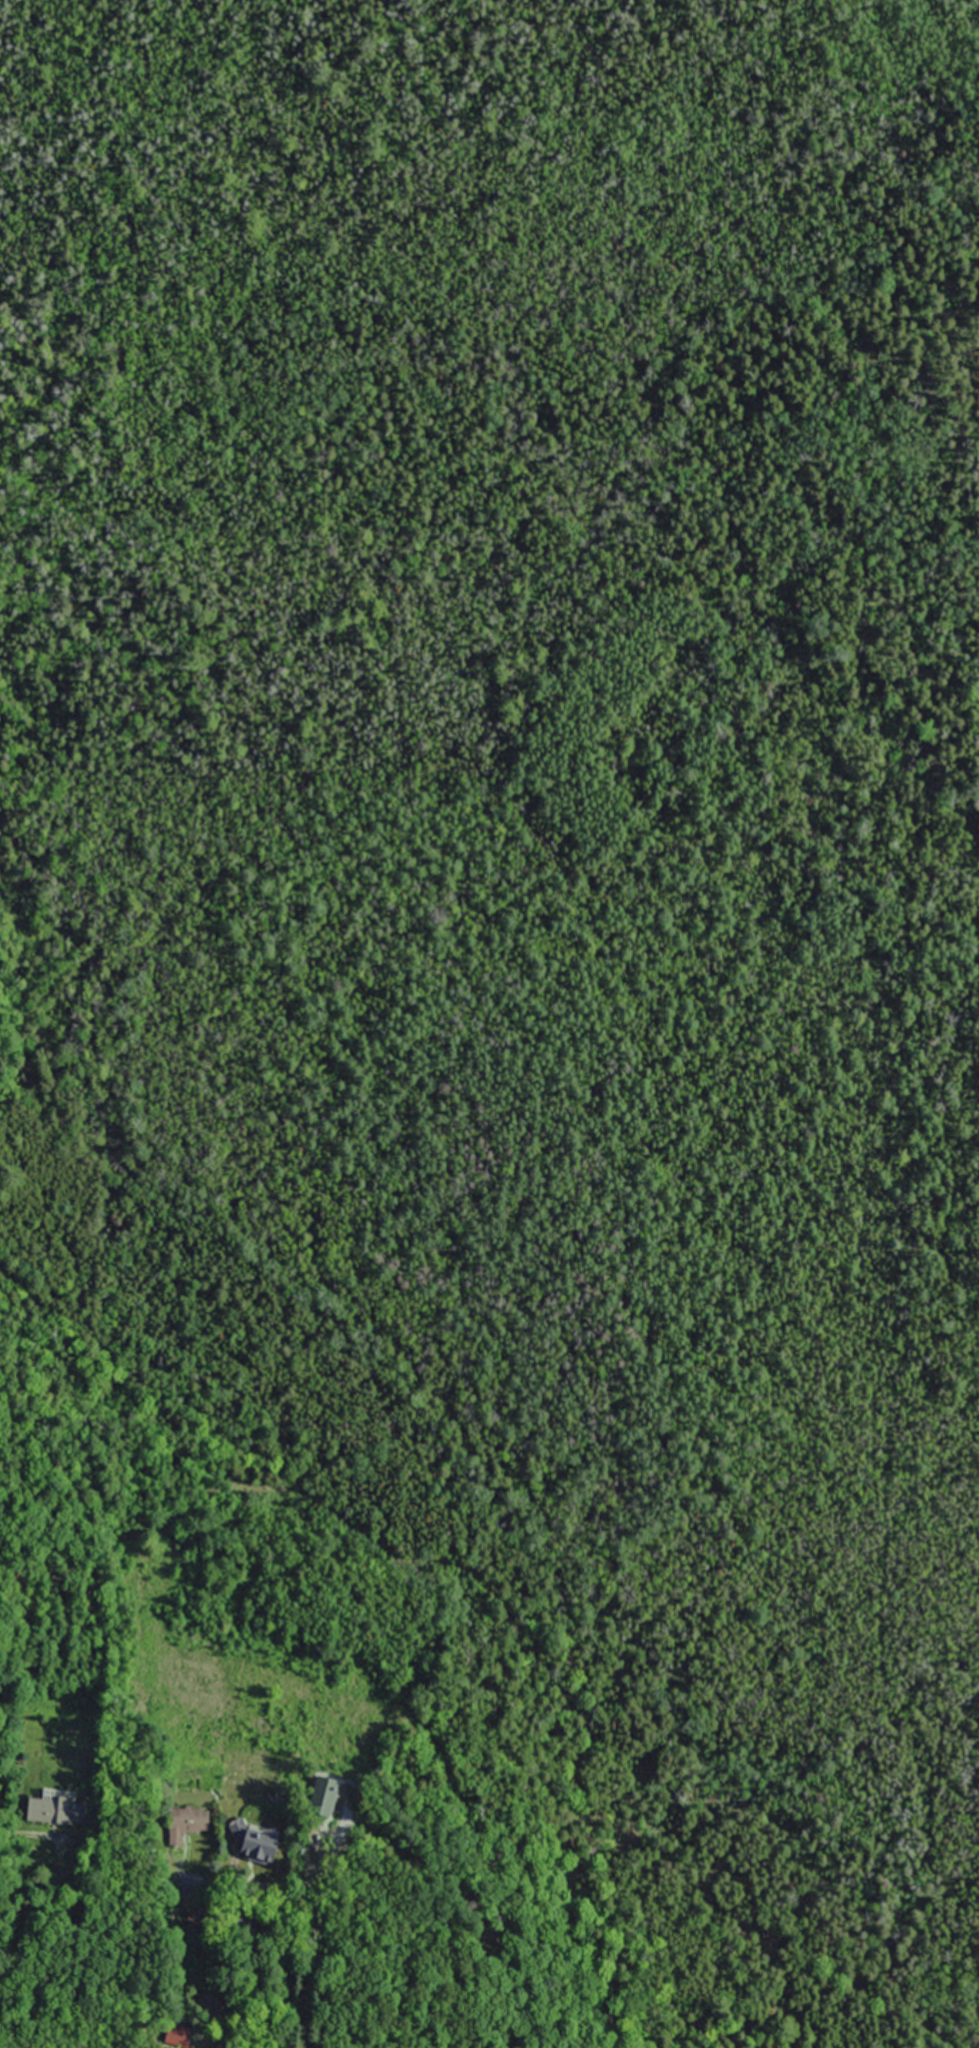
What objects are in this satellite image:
road: (5, 1779)

